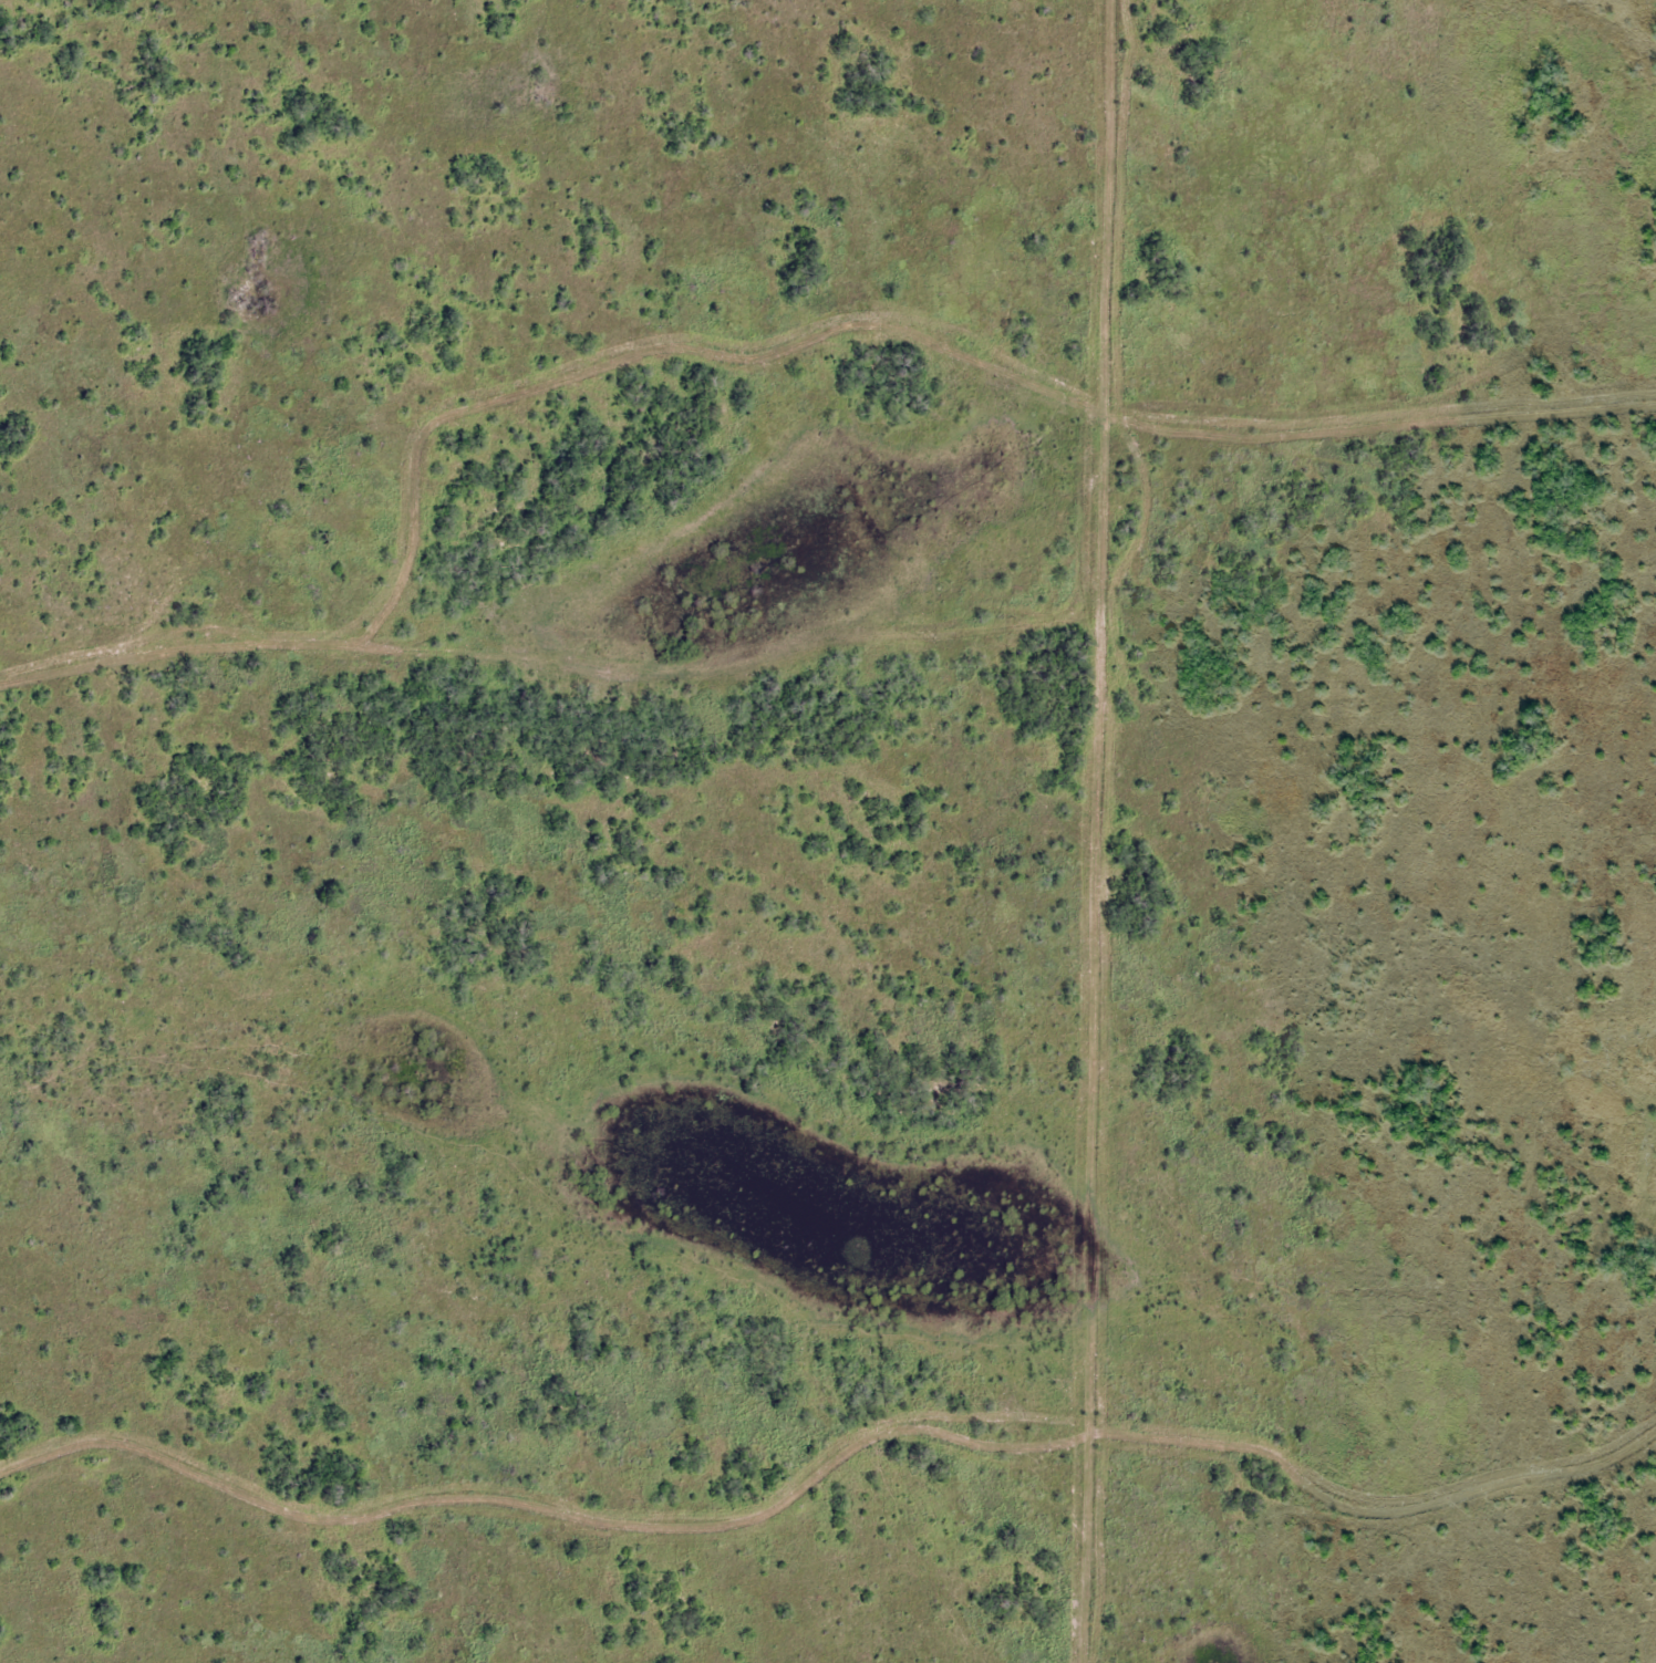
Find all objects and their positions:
road: (1050, 831)

